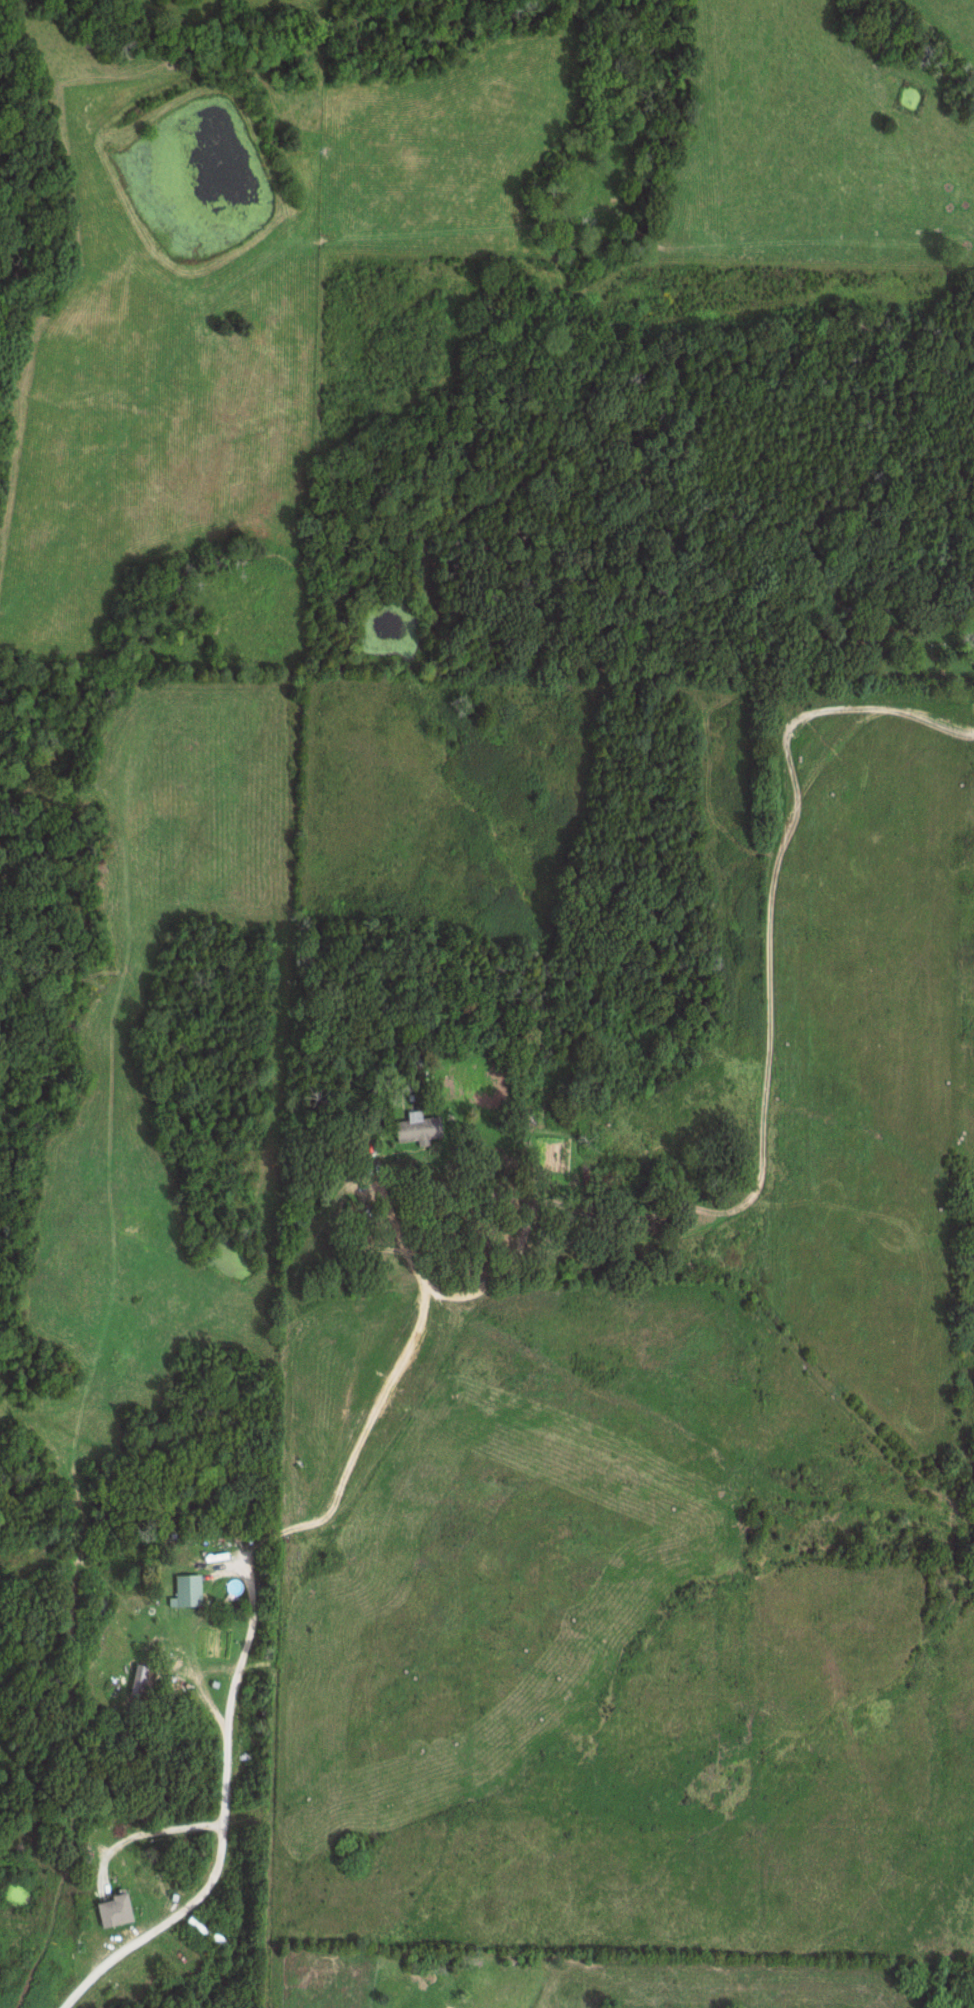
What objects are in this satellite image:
building: (420, 1128)
building: (126, 1219)
road: (407, 1242)
road: (422, 1299)
road: (372, 1423)
building: (189, 1578)
building: (128, 1617)
building: (138, 1674)
building: (118, 1910)
building: (209, 1930)

